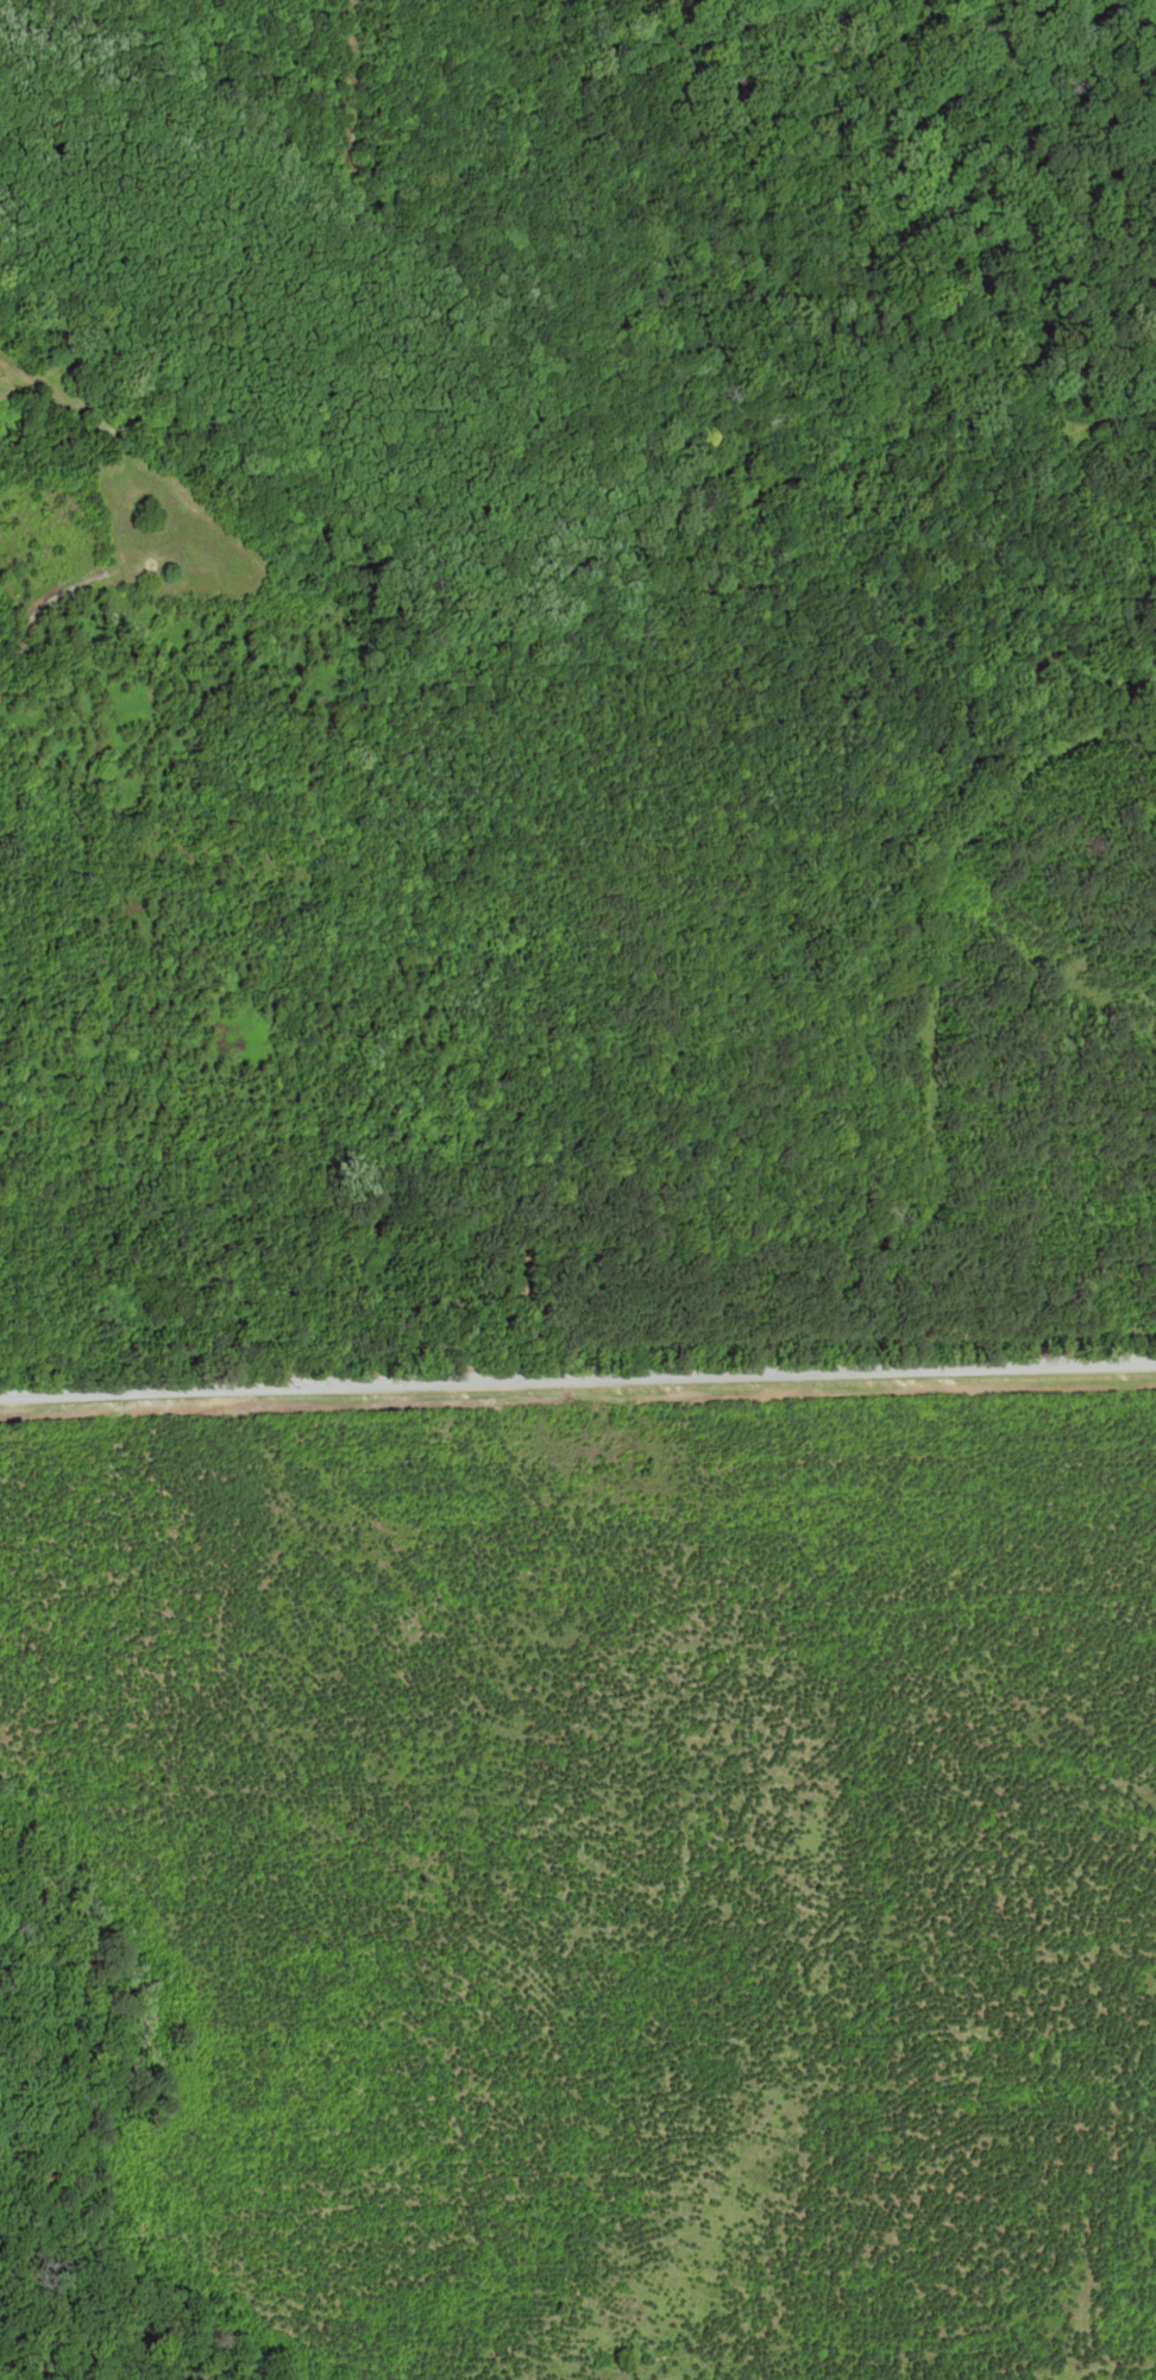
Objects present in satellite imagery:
road: (40, 618)
road: (578, 1377)

